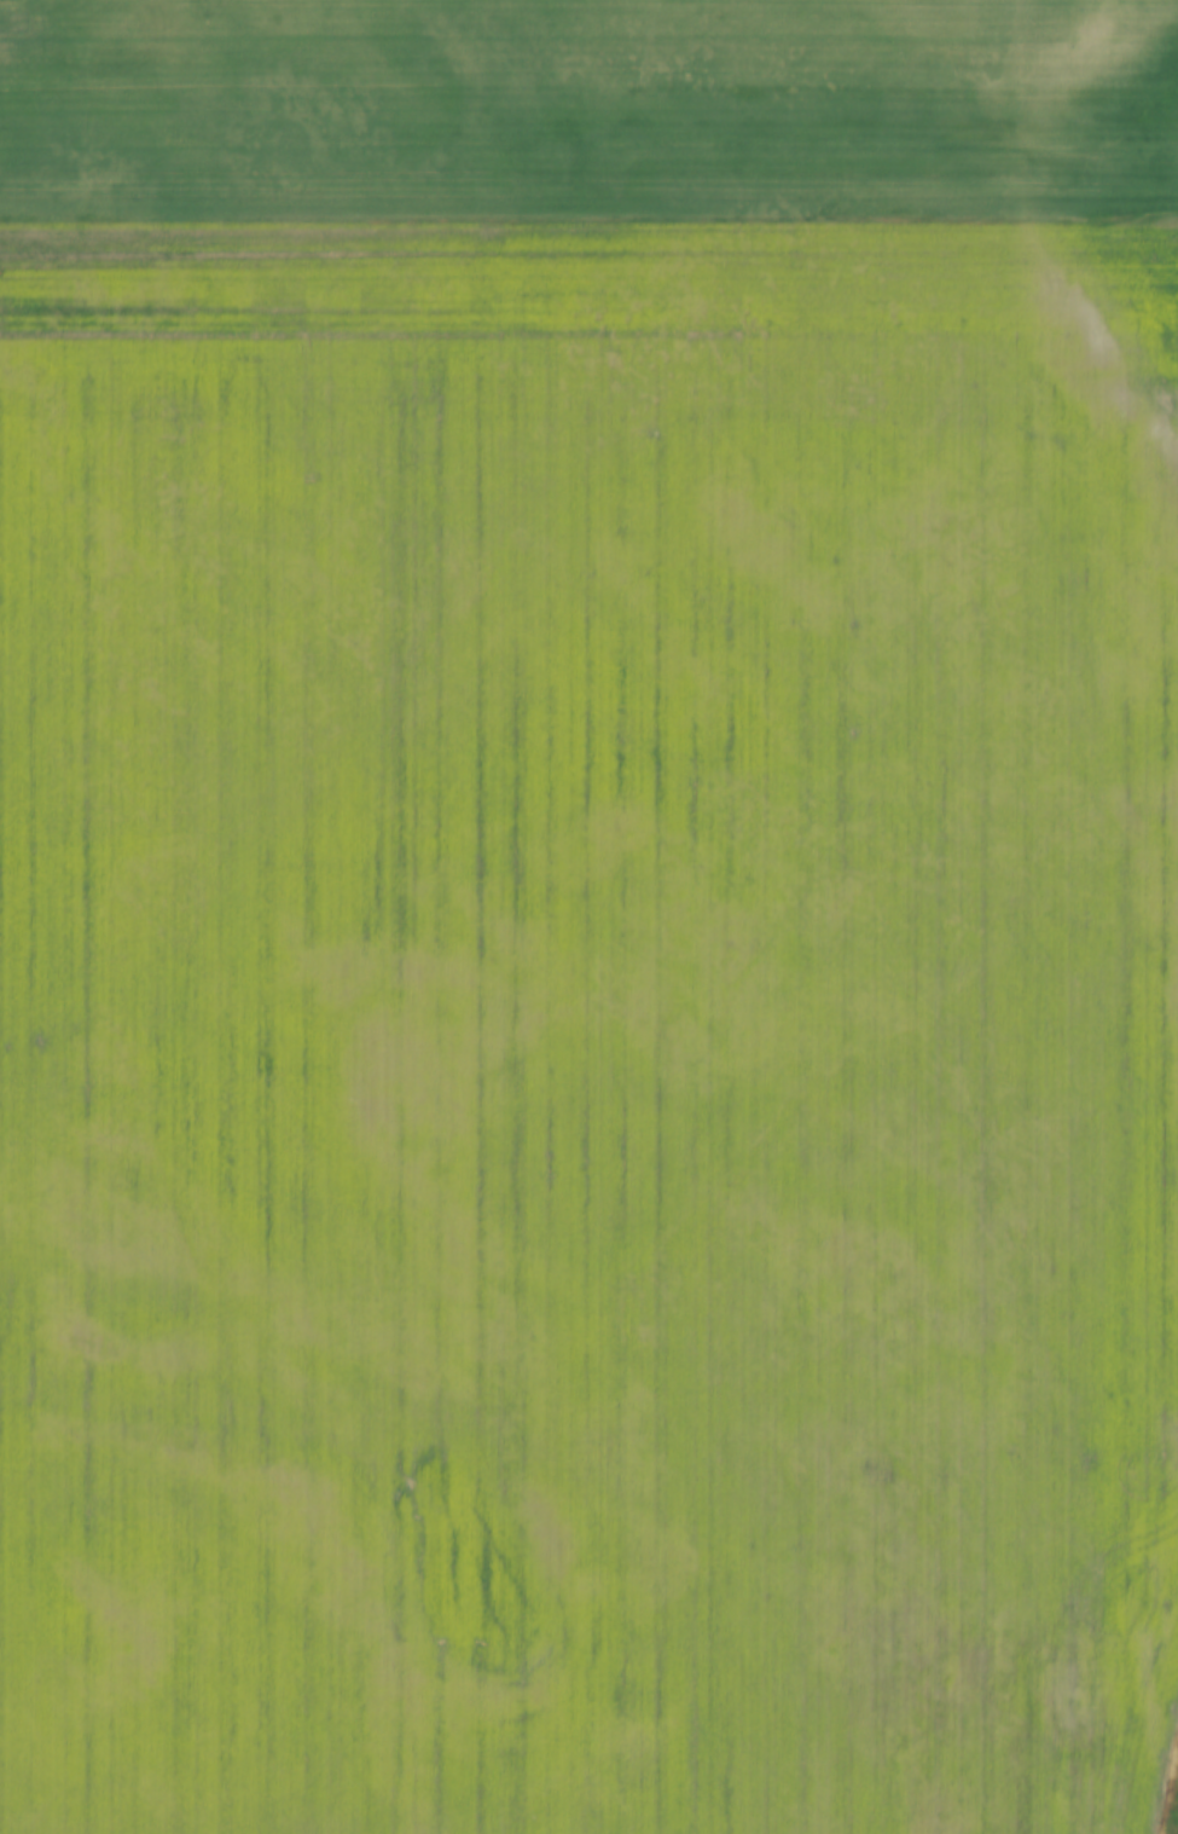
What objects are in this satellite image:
road: (588, 227)

